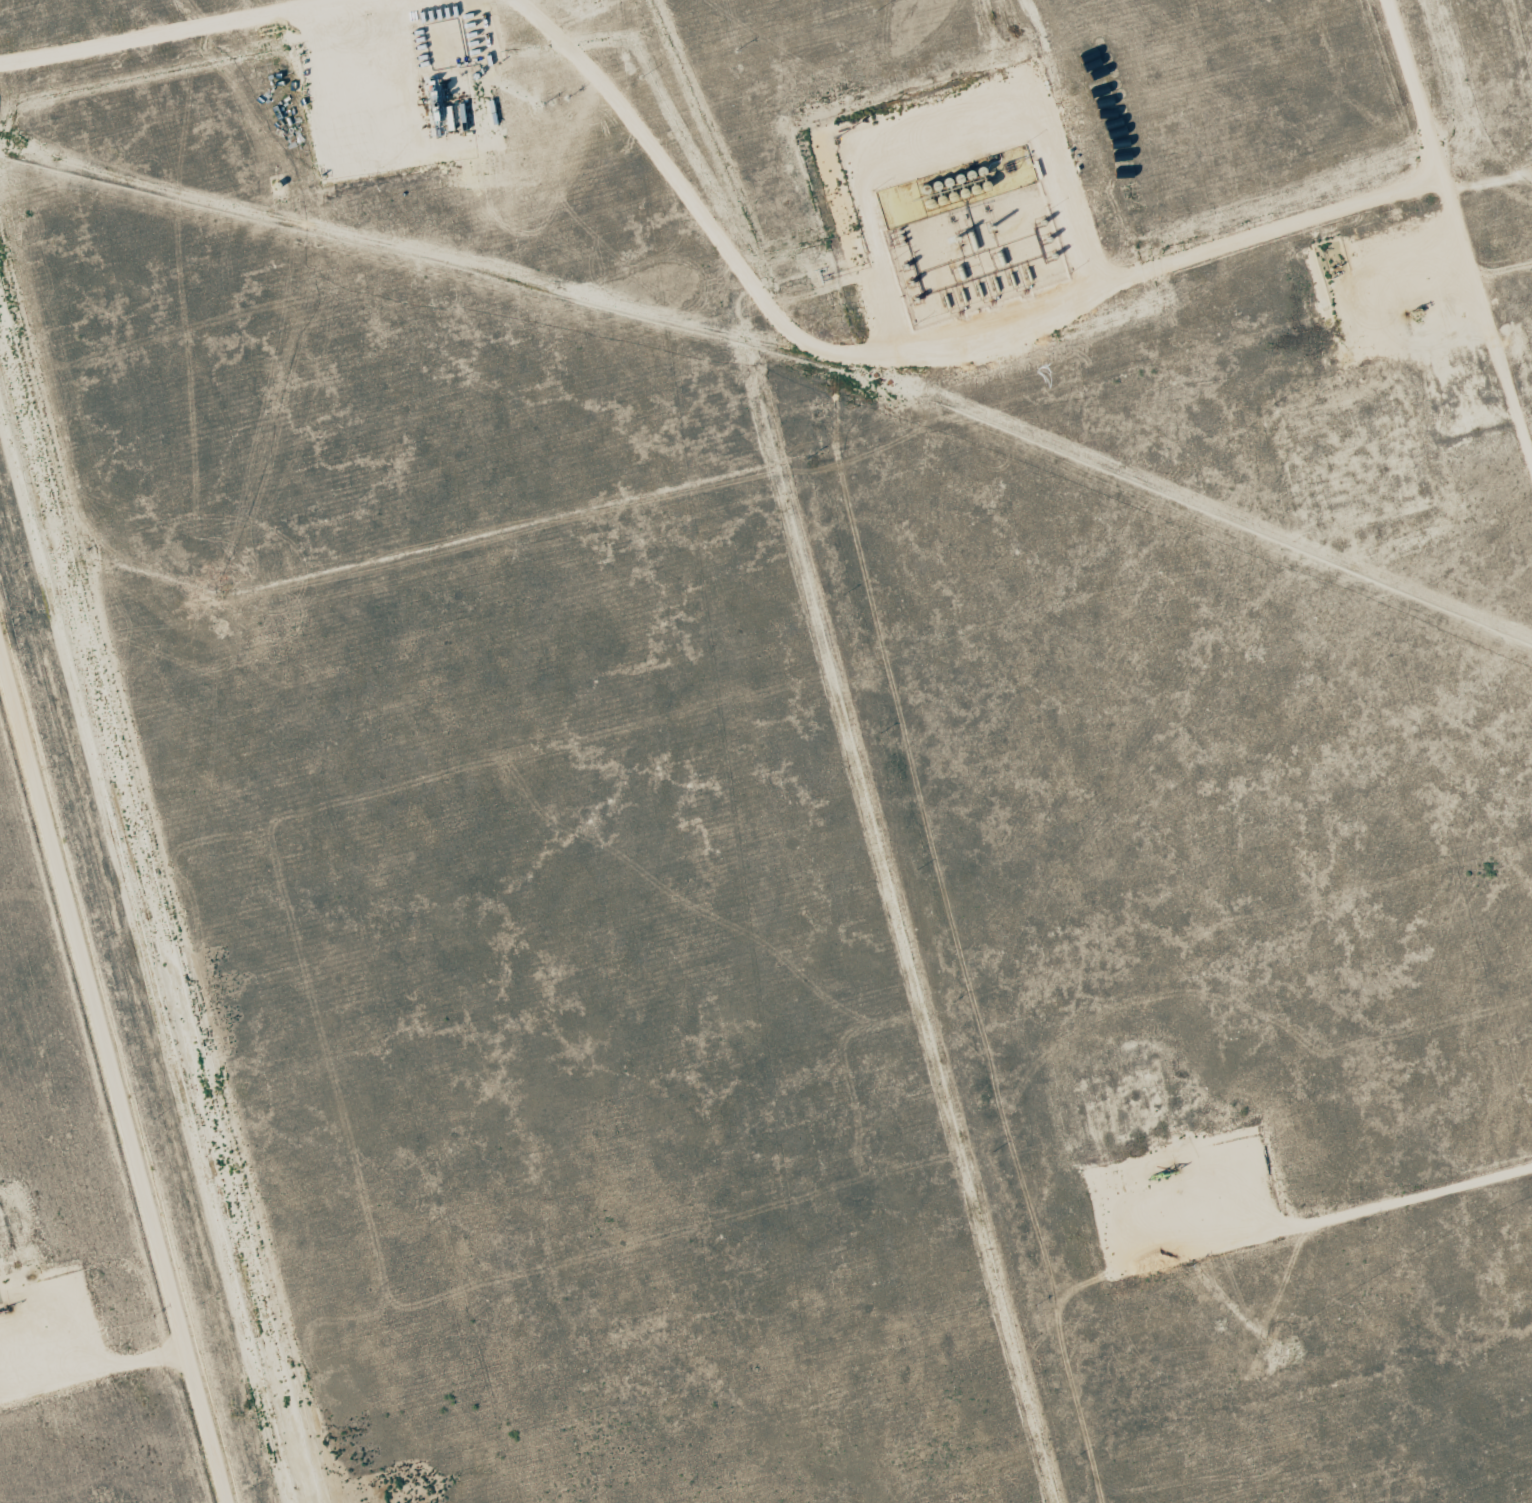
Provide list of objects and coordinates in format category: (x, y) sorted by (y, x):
road: (118, 1065)

